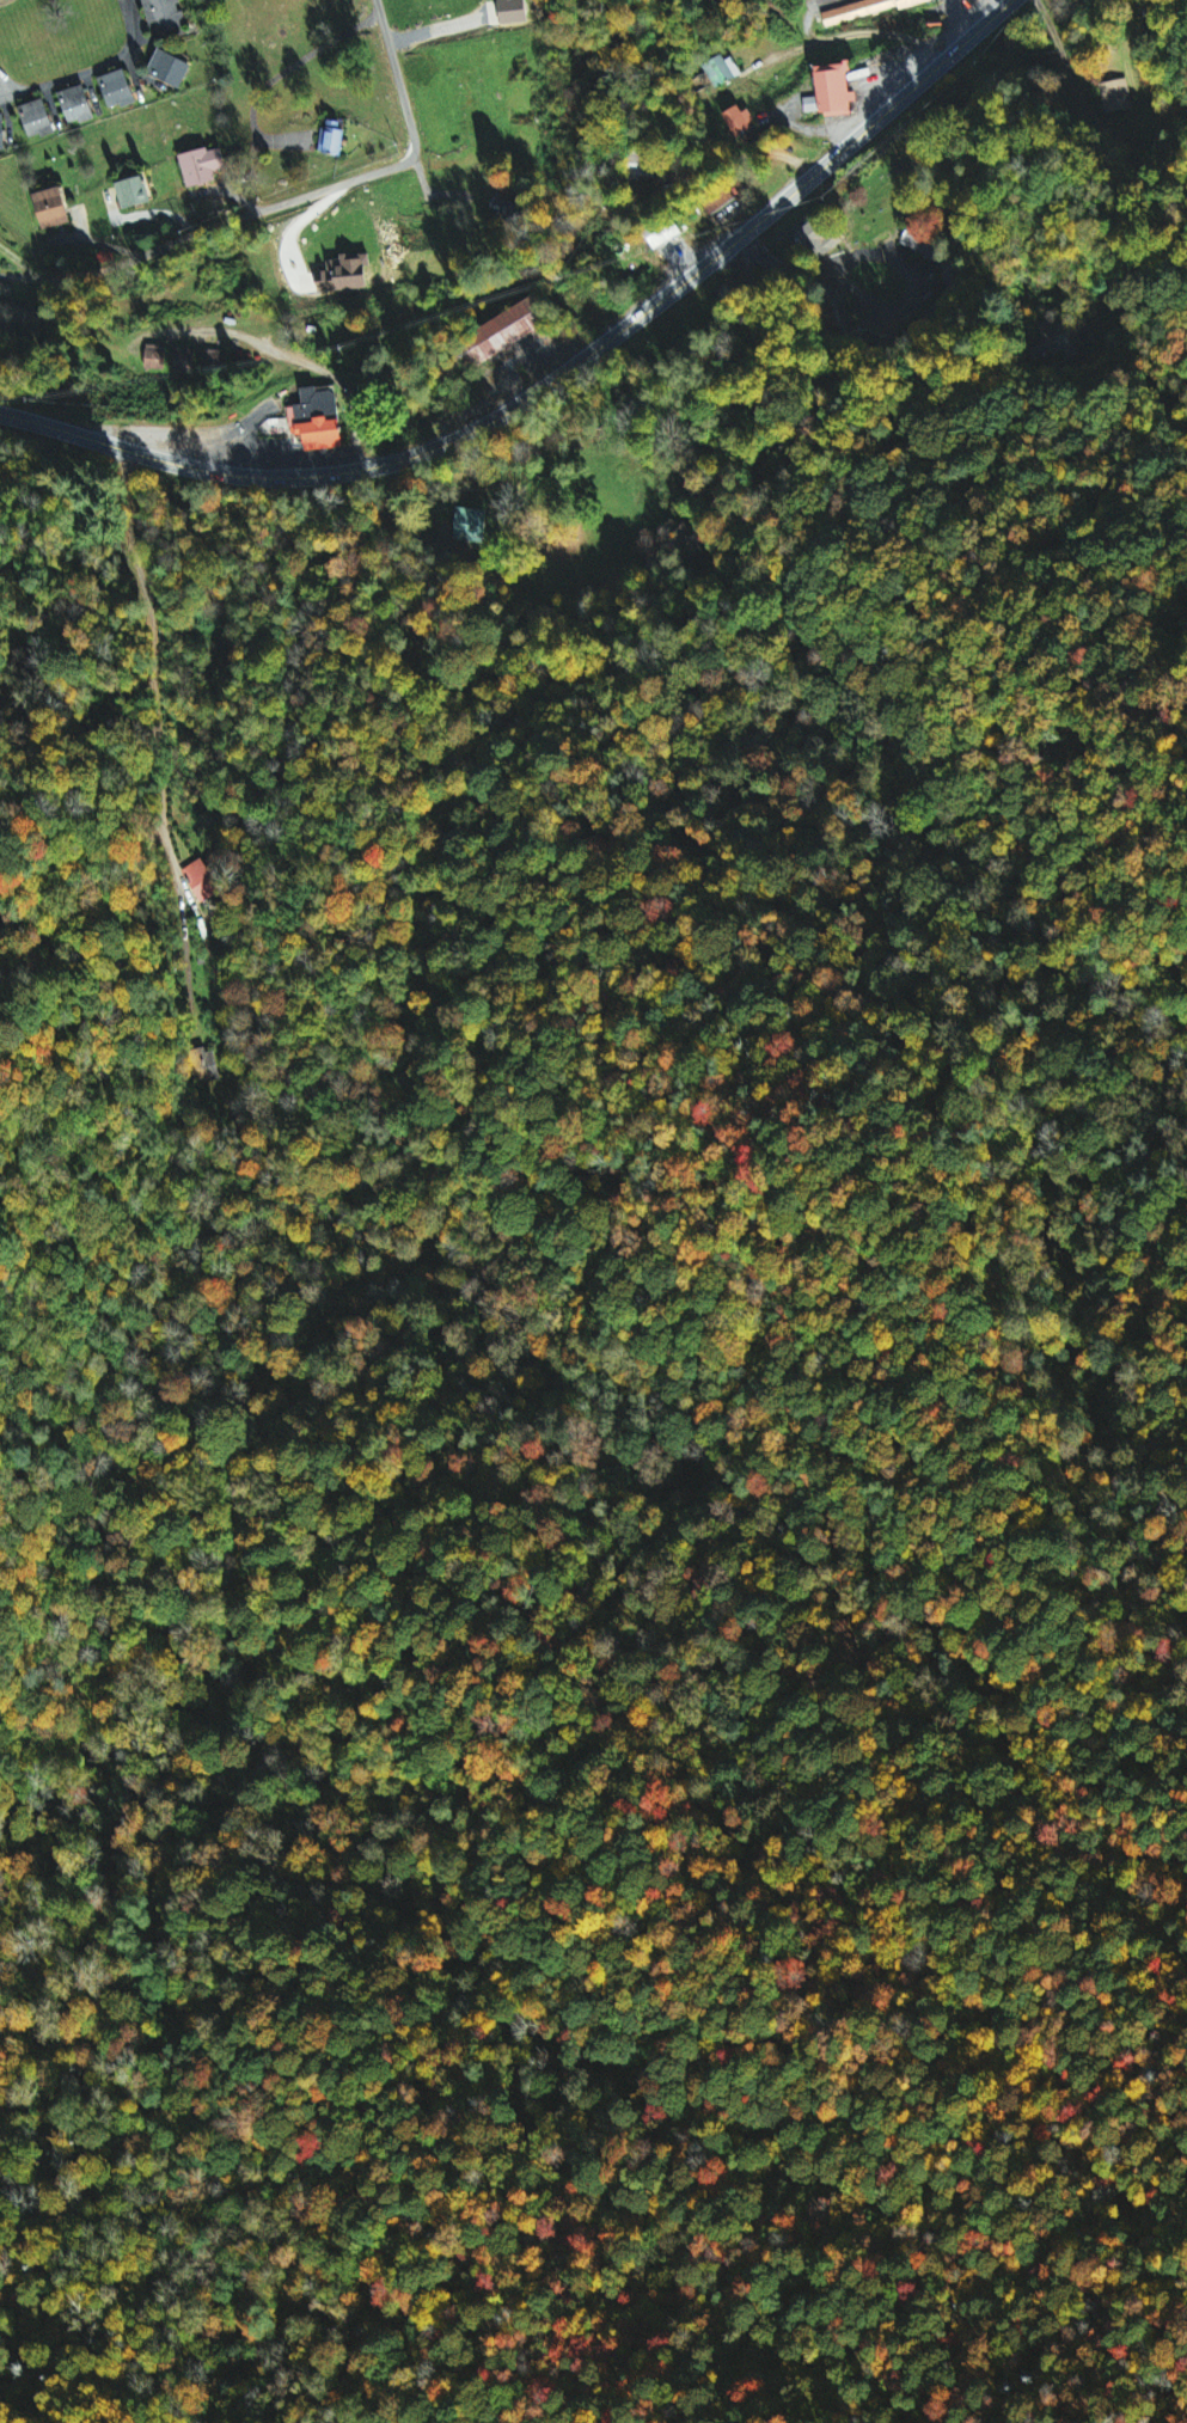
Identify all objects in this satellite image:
building: (869, 10)
building: (514, 12)
building: (166, 19)
road: (808, 19)
road: (950, 26)
road: (861, 32)
building: (170, 69)
road: (92, 71)
building: (723, 72)
building: (117, 91)
building: (836, 91)
building: (1116, 97)
building: (77, 105)
building: (36, 120)
building: (739, 121)
road: (807, 128)
building: (2, 131)
building: (334, 139)
building: (198, 170)
building: (133, 194)
building: (724, 201)
road: (284, 203)
building: (51, 209)
building: (666, 237)
building: (816, 240)
road: (889, 252)
building: (501, 336)
building: (155, 359)
building: (200, 361)
road: (557, 378)
building: (318, 421)
building: (471, 526)
road: (649, 645)
road: (161, 663)
building: (202, 882)
road: (185, 943)

